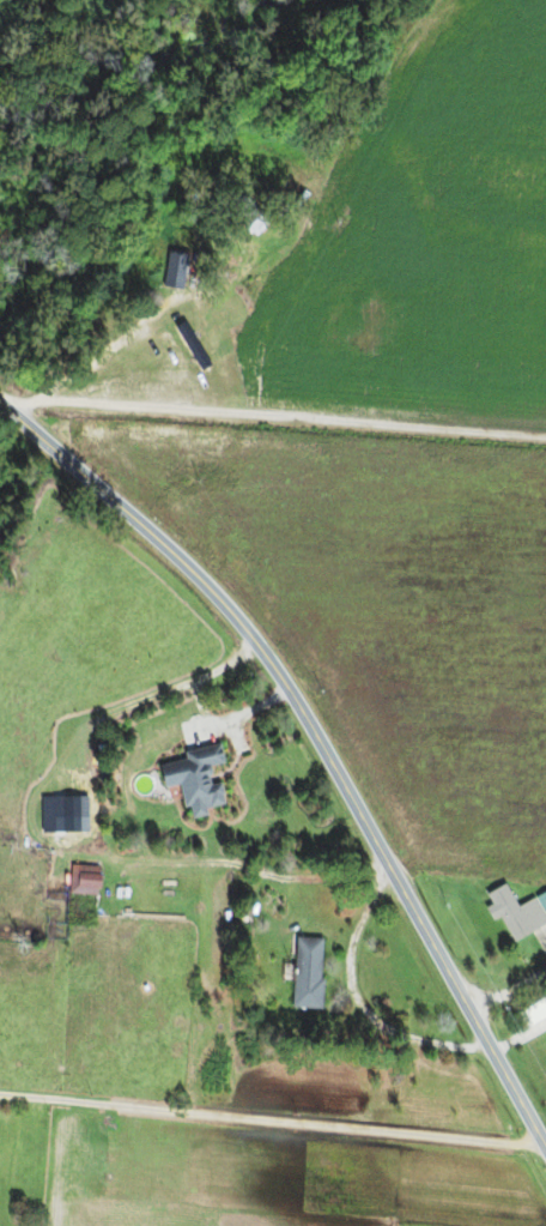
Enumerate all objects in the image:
road: (182, 296)
road: (275, 413)
road: (317, 744)
building: (194, 779)
building: (81, 883)
building: (511, 912)
building: (303, 973)
building: (542, 1001)

